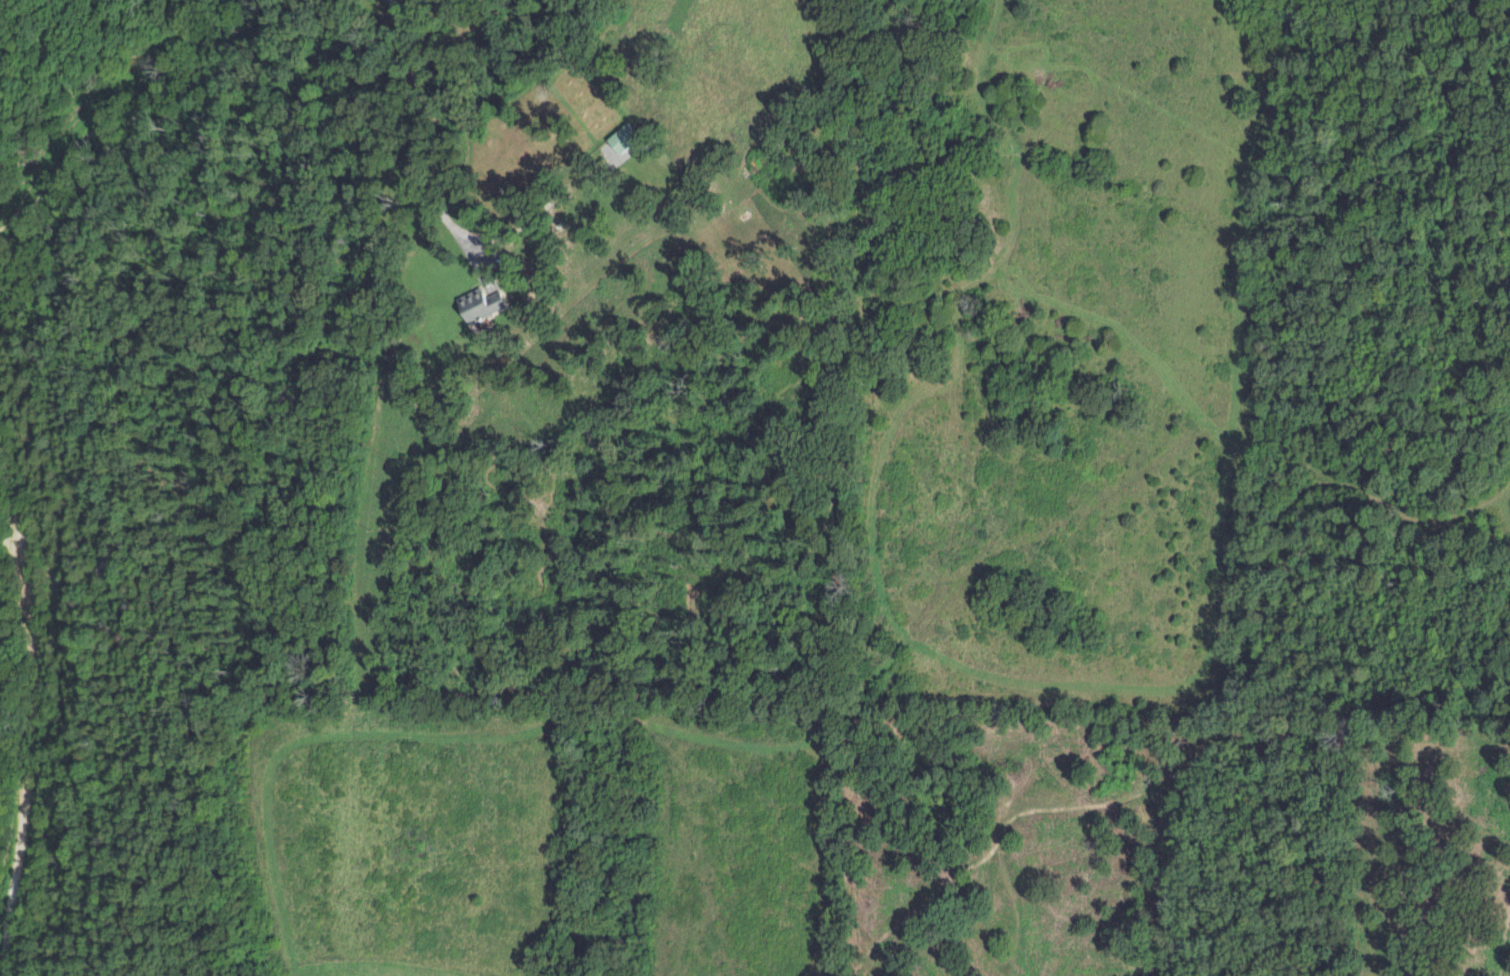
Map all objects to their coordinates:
building: (618, 138)
road: (421, 145)
road: (108, 154)
building: (476, 305)
road: (33, 685)

